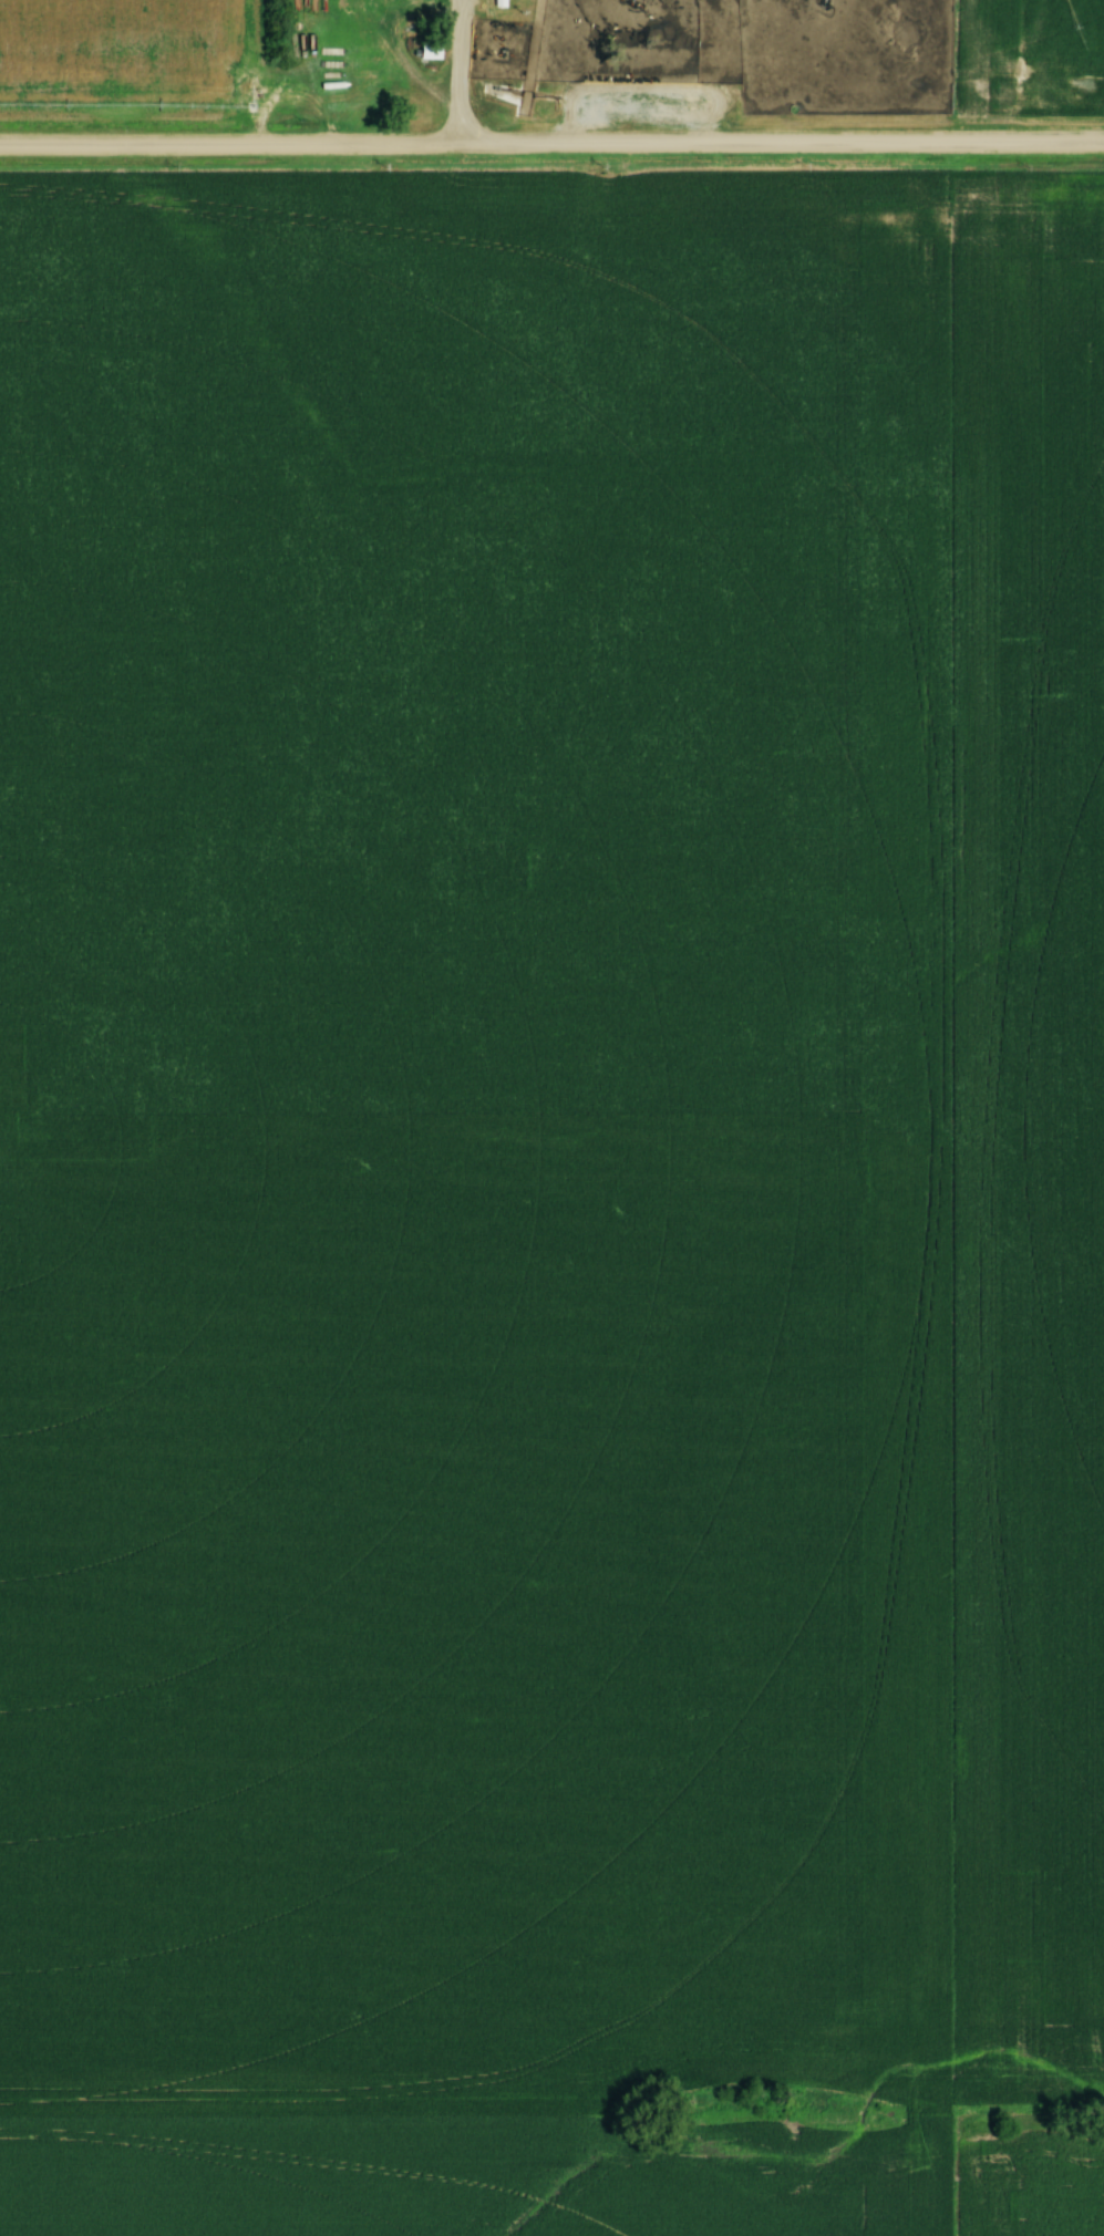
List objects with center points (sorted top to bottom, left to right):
building: (370, 41)
building: (432, 52)
building: (359, 61)
road: (590, 69)
road: (455, 72)
building: (372, 80)
road: (551, 144)

